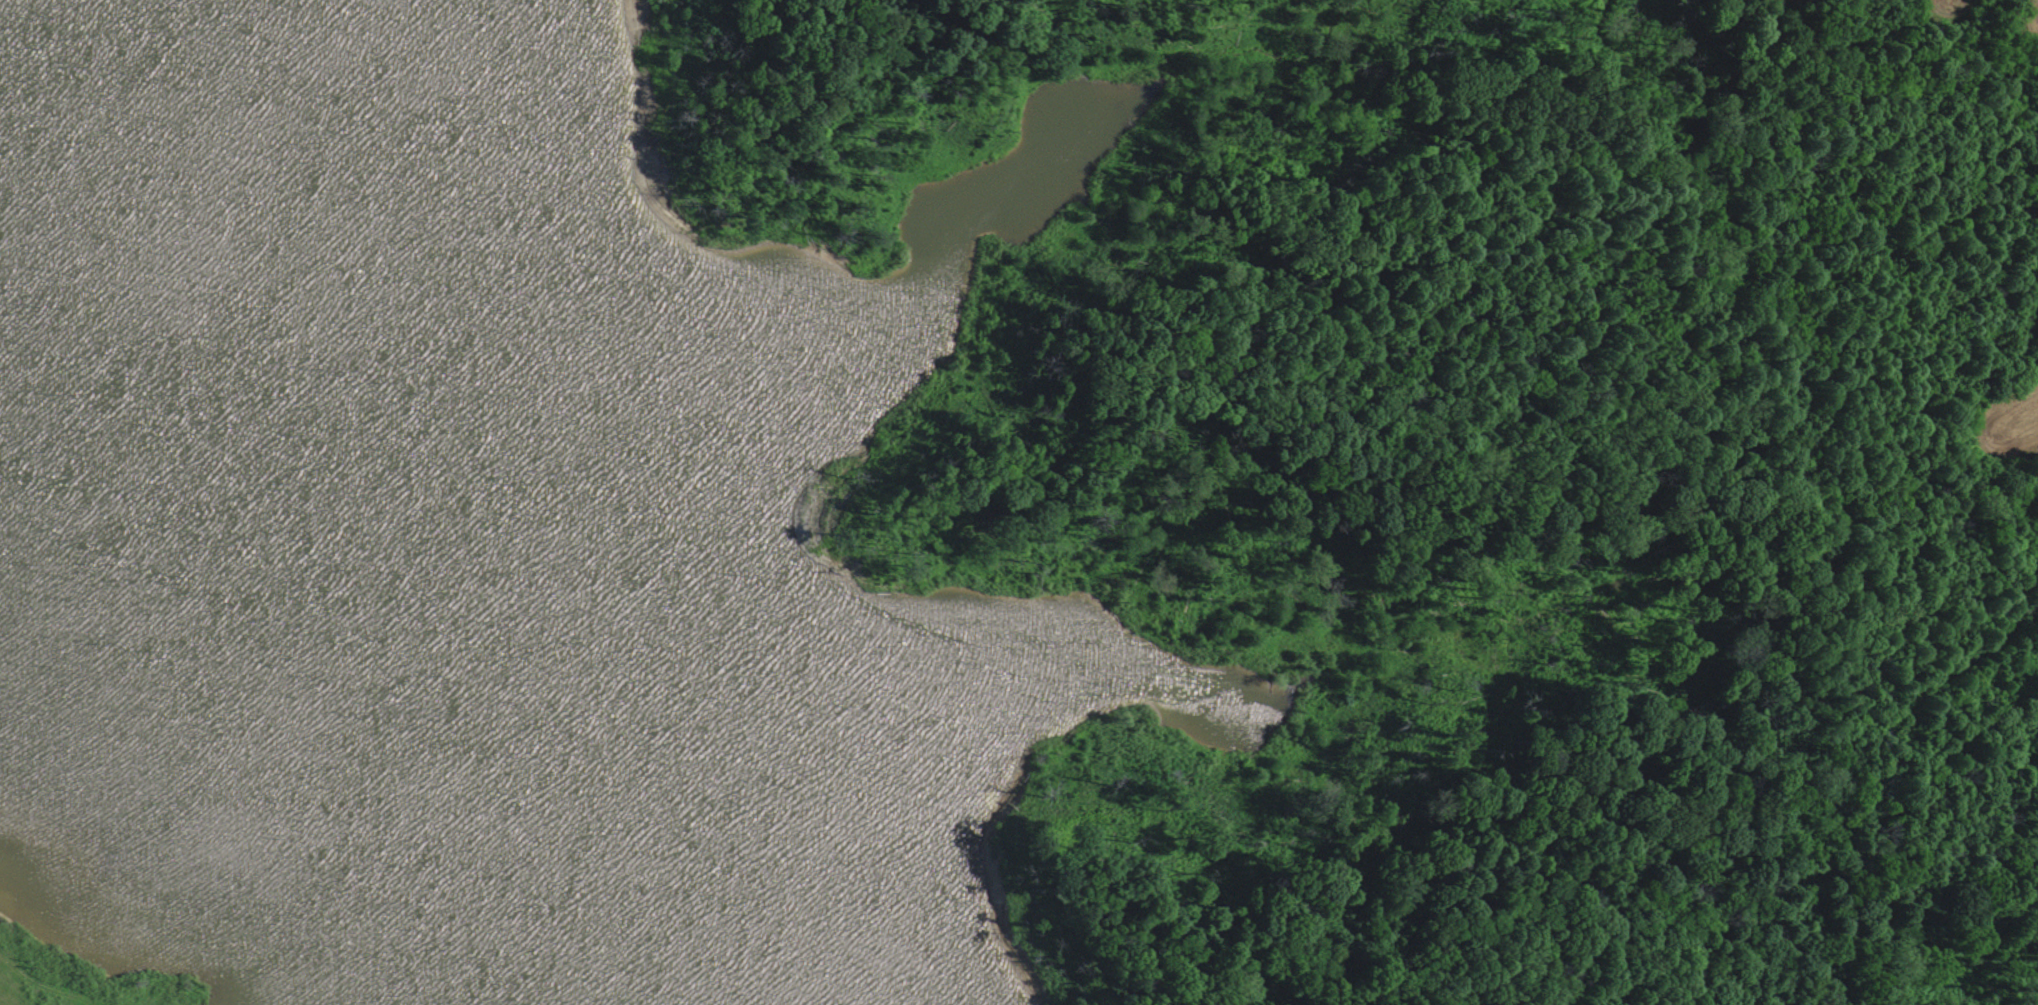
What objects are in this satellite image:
river: (425, 521)

